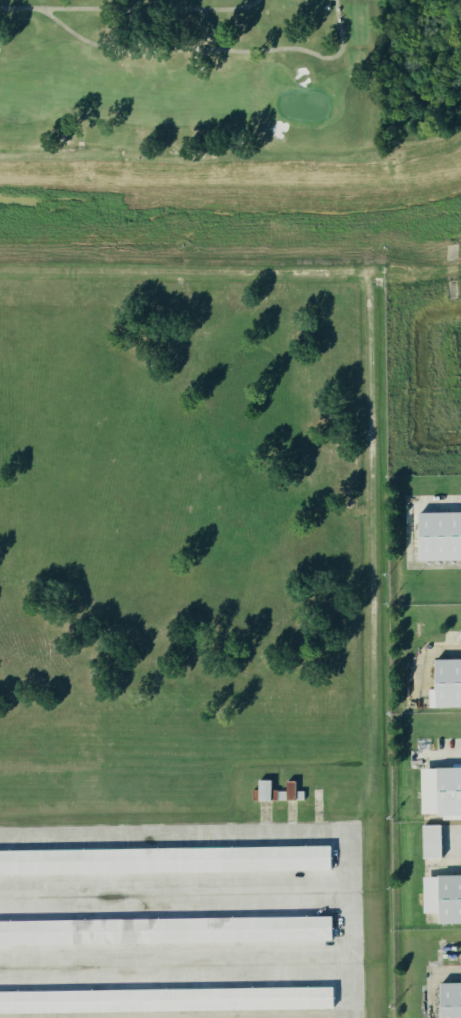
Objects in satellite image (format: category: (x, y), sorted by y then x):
park: (186, 79)
park: (190, 80)
building: (439, 534)
airport: (193, 653)
road: (424, 653)
building: (448, 682)
building: (264, 789)
building: (290, 789)
building: (449, 789)
building: (430, 839)
building: (164, 858)
building: (450, 898)
airport apron: (182, 921)
road: (349, 922)
building: (165, 928)
building: (52, 956)
road: (448, 970)
building: (167, 998)
building: (450, 999)

